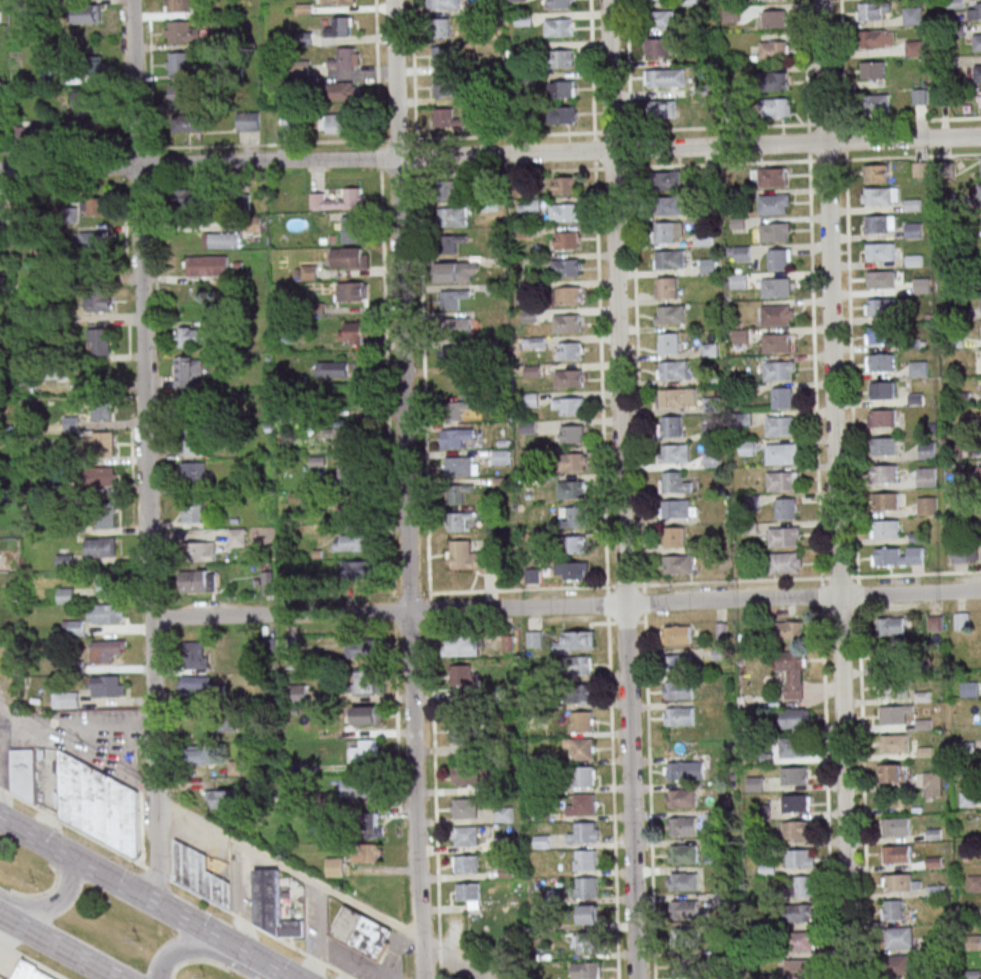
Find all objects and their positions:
building: (518, 0)
building: (657, 0)
building: (772, 0)
building: (338, 1)
building: (177, 4)
building: (445, 4)
building: (560, 4)
building: (873, 10)
building: (975, 11)
building: (732, 13)
building: (88, 15)
building: (913, 15)
building: (774, 18)
building: (665, 19)
building: (560, 26)
building: (341, 27)
building: (443, 27)
building: (183, 32)
building: (870, 39)
building: (976, 42)
building: (658, 46)
building: (914, 47)
building: (775, 49)
building: (442, 55)
building: (562, 57)
building: (345, 59)
building: (180, 62)
building: (93, 65)
road: (589, 65)
building: (872, 69)
road: (822, 70)
building: (976, 72)
road: (609, 74)
building: (666, 78)
building: (776, 81)
building: (443, 86)
building: (564, 89)
building: (341, 91)
building: (179, 93)
building: (920, 96)
building: (980, 99)
building: (878, 104)
building: (88, 107)
building: (777, 107)
building: (663, 108)
building: (563, 114)
building: (448, 118)
building: (248, 121)
building: (189, 123)
building: (336, 123)
road: (804, 123)
building: (21, 136)
road: (371, 139)
road: (490, 154)
road: (610, 167)
building: (920, 169)
building: (876, 173)
building: (771, 176)
building: (666, 179)
building: (565, 185)
building: (451, 190)
building: (980, 192)
building: (240, 195)
building: (878, 195)
building: (187, 199)
building: (338, 200)
building: (668, 204)
building: (773, 204)
building: (3, 205)
building: (93, 206)
building: (564, 211)
building: (453, 216)
building: (880, 224)
building: (352, 229)
building: (773, 230)
building: (913, 230)
building: (670, 232)
building: (93, 240)
building: (221, 240)
building: (567, 240)
building: (452, 243)
building: (879, 251)
building: (740, 253)
building: (349, 257)
building: (669, 258)
building: (780, 259)
building: (206, 265)
building: (709, 265)
building: (566, 267)
building: (459, 271)
building: (879, 278)
building: (739, 281)
building: (922, 285)
building: (777, 286)
building: (667, 287)
building: (352, 291)
building: (570, 295)
building: (451, 298)
building: (98, 302)
building: (881, 306)
road: (634, 310)
building: (670, 312)
building: (777, 314)
building: (567, 323)
building: (456, 326)
building: (351, 332)
building: (879, 334)
building: (189, 336)
road: (597, 339)
building: (99, 341)
building: (535, 342)
building: (669, 343)
building: (777, 343)
building: (570, 350)
building: (452, 355)
building: (880, 362)
building: (672, 368)
building: (337, 369)
building: (776, 369)
building: (918, 369)
building: (188, 371)
building: (569, 378)
building: (454, 382)
road: (421, 383)
building: (883, 389)
building: (671, 397)
building: (783, 397)
building: (529, 399)
building: (189, 401)
building: (712, 403)
building: (568, 405)
building: (103, 409)
building: (457, 409)
building: (881, 417)
building: (778, 424)
building: (670, 426)
building: (573, 433)
building: (341, 437)
building: (456, 437)
road: (815, 438)
building: (191, 440)
building: (103, 444)
building: (882, 445)
building: (927, 450)
building: (674, 452)
building: (778, 452)
road: (145, 453)
building: (501, 456)
building: (713, 459)
building: (575, 461)
building: (465, 466)
building: (193, 471)
building: (882, 472)
building: (347, 473)
building: (105, 476)
building: (927, 477)
building: (779, 480)
building: (674, 482)
road: (405, 489)
building: (572, 489)
building: (458, 491)
building: (883, 500)
building: (927, 505)
building: (676, 508)
building: (786, 508)
building: (192, 510)
building: (106, 515)
building: (573, 516)
building: (459, 520)
building: (884, 528)
building: (784, 536)
building: (237, 537)
building: (676, 537)
building: (352, 542)
building: (577, 544)
building: (100, 546)
building: (201, 550)
building: (965, 552)
building: (886, 555)
building: (469, 556)
road: (837, 559)
building: (65, 561)
building: (786, 562)
road: (623, 564)
building: (679, 564)
road: (854, 567)
building: (358, 569)
building: (573, 570)
building: (198, 580)
building: (105, 583)
road: (565, 606)
building: (107, 613)
road: (427, 617)
building: (962, 621)
building: (891, 626)
building: (790, 630)
building: (674, 634)
building: (535, 639)
building: (577, 642)
building: (462, 647)
building: (360, 649)
building: (106, 650)
building: (196, 655)
building: (889, 660)
building: (676, 662)
building: (579, 665)
building: (793, 672)
building: (366, 681)
building: (195, 682)
building: (463, 682)
building: (109, 686)
building: (889, 687)
building: (677, 689)
building: (582, 692)
building: (298, 693)
building: (66, 699)
building: (368, 715)
building: (678, 715)
building: (891, 715)
building: (796, 718)
building: (582, 721)
building: (226, 723)
road: (97, 727)
building: (460, 729)
parking lot: (98, 732)
building: (891, 743)
building: (794, 747)
building: (584, 748)
building: (366, 750)
building: (202, 754)
building: (679, 770)
building: (24, 773)
building: (891, 773)
building: (466, 775)
building: (795, 775)
building: (585, 776)
road: (432, 781)
building: (932, 783)
building: (680, 797)
building: (223, 798)
building: (794, 802)
building: (98, 803)
building: (583, 805)
building: (465, 808)
building: (504, 815)
road: (169, 820)
road: (209, 824)
building: (373, 825)
building: (681, 825)
building: (895, 825)
road: (72, 826)
building: (794, 828)
building: (586, 833)
building: (466, 835)
building: (542, 842)
building: (367, 853)
building: (682, 853)
building: (896, 853)
building: (800, 858)
road: (170, 859)
building: (586, 860)
building: (467, 863)
building: (335, 866)
road: (155, 872)
building: (200, 875)
building: (682, 881)
building: (897, 881)
building: (974, 883)
building: (586, 887)
building: (800, 887)
building: (470, 893)
road: (198, 896)
road: (144, 898)
building: (725, 900)
road: (52, 902)
building: (272, 906)
building: (683, 908)
building: (892, 909)
building: (796, 912)
building: (589, 914)
road: (242, 920)
building: (362, 932)
building: (684, 936)
building: (900, 938)
road: (278, 940)
road: (436, 941)
building: (802, 941)
building: (586, 942)
road: (59, 946)
road: (204, 950)
road: (464, 956)
road: (313, 959)
road: (32, 961)
road: (437, 962)
building: (684, 964)
building: (898, 965)
building: (799, 968)
building: (587, 970)
road: (337, 971)
building: (29, 973)

